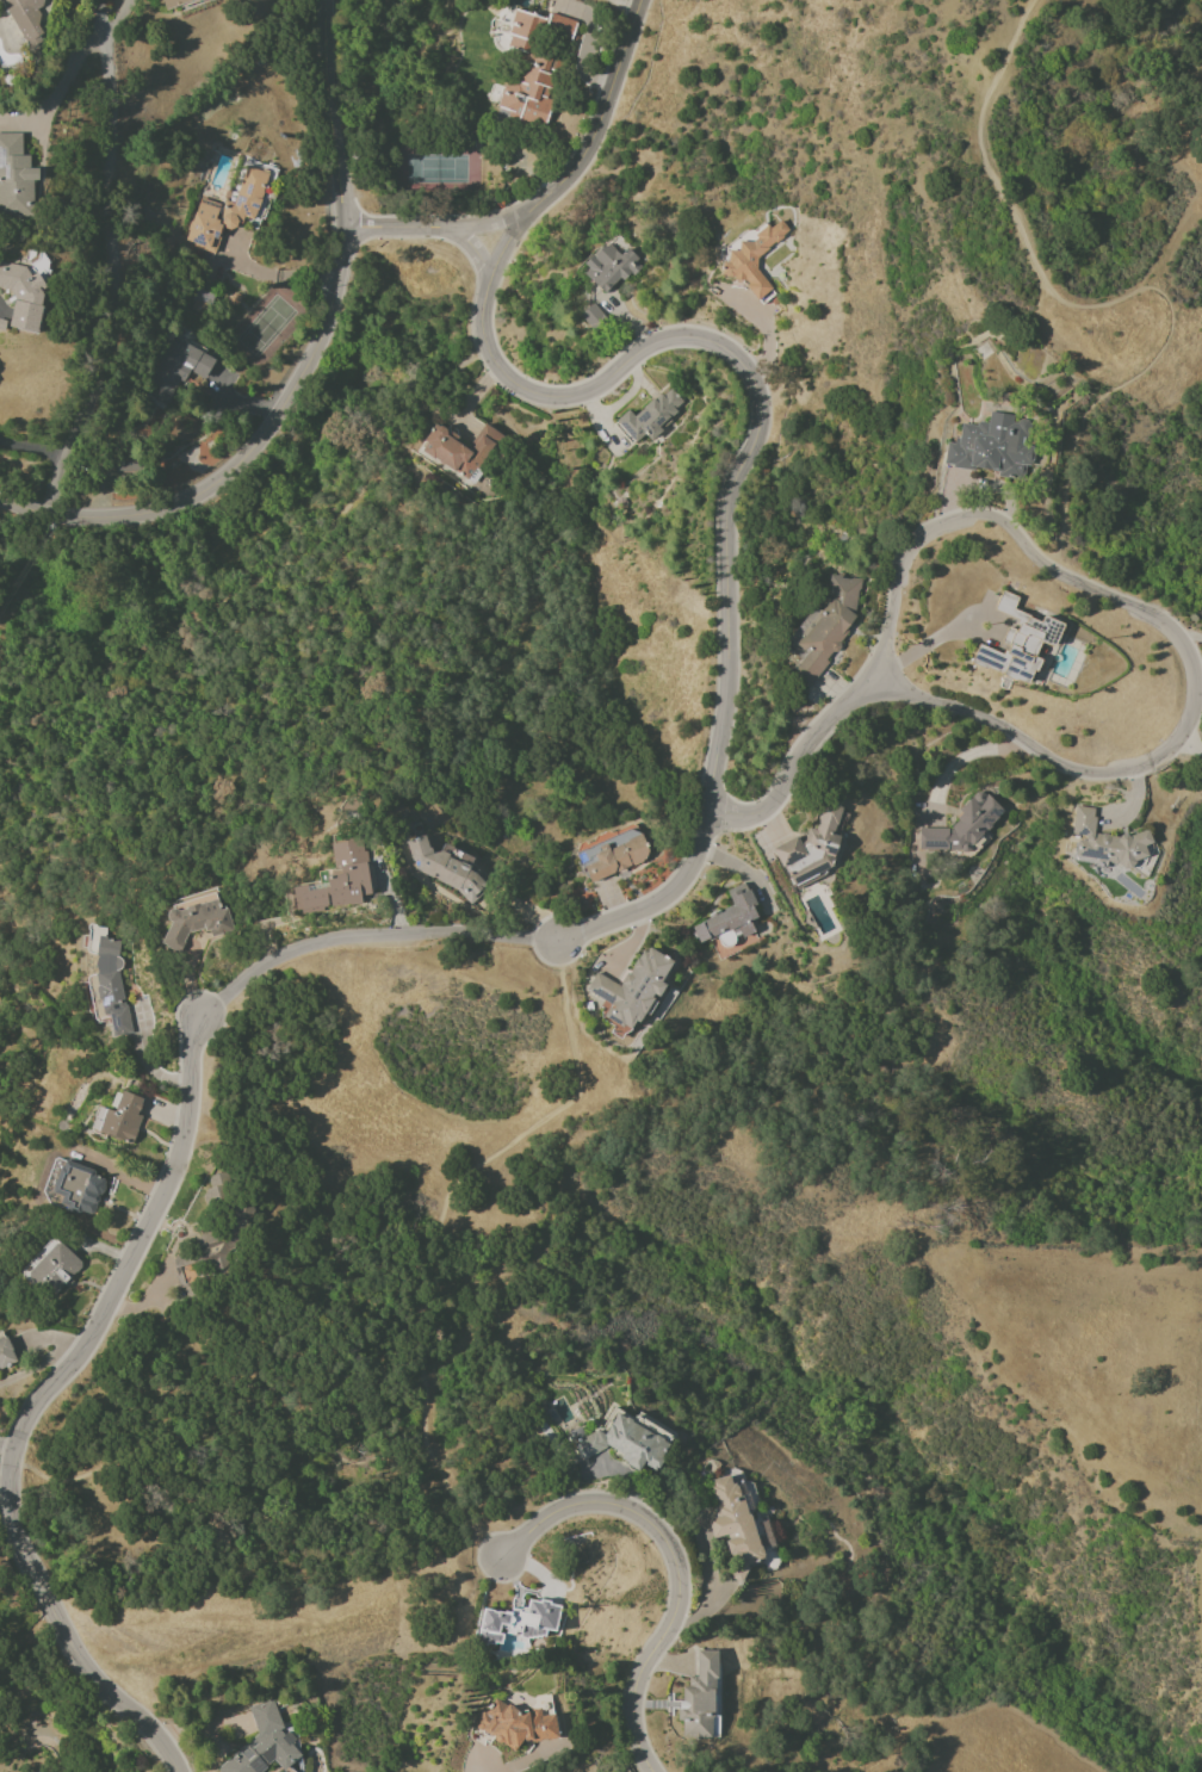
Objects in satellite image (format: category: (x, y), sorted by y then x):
building: (173, 2)
building: (29, 19)
road: (109, 23)
building: (532, 67)
road: (594, 126)
building: (14, 178)
building: (225, 211)
road: (425, 224)
road: (503, 243)
building: (754, 259)
building: (609, 265)
road: (275, 277)
road: (125, 285)
building: (23, 295)
road: (1104, 304)
building: (590, 316)
road: (305, 365)
building: (175, 370)
road: (749, 371)
building: (648, 416)
building: (989, 447)
road: (39, 451)
building: (458, 451)
road: (265, 568)
building: (823, 628)
road: (1186, 634)
road: (933, 638)
building: (1017, 643)
park: (2, 646)
road: (1194, 679)
road: (1197, 686)
road: (1192, 744)
road: (798, 756)
building: (961, 825)
building: (1103, 842)
building: (811, 848)
building: (612, 855)
building: (337, 880)
road: (658, 900)
building: (194, 919)
building: (727, 923)
road: (366, 937)
building: (111, 986)
building: (631, 989)
road: (143, 1059)
building: (118, 1119)
building: (79, 1189)
building: (200, 1257)
building: (54, 1269)
building: (6, 1353)
road: (36, 1402)
road: (416, 1440)
building: (624, 1443)
road: (6, 1446)
road: (450, 1497)
building: (732, 1524)
road: (675, 1568)
building: (518, 1622)
building: (700, 1698)
building: (516, 1724)
building: (264, 1742)
road: (475, 1767)

